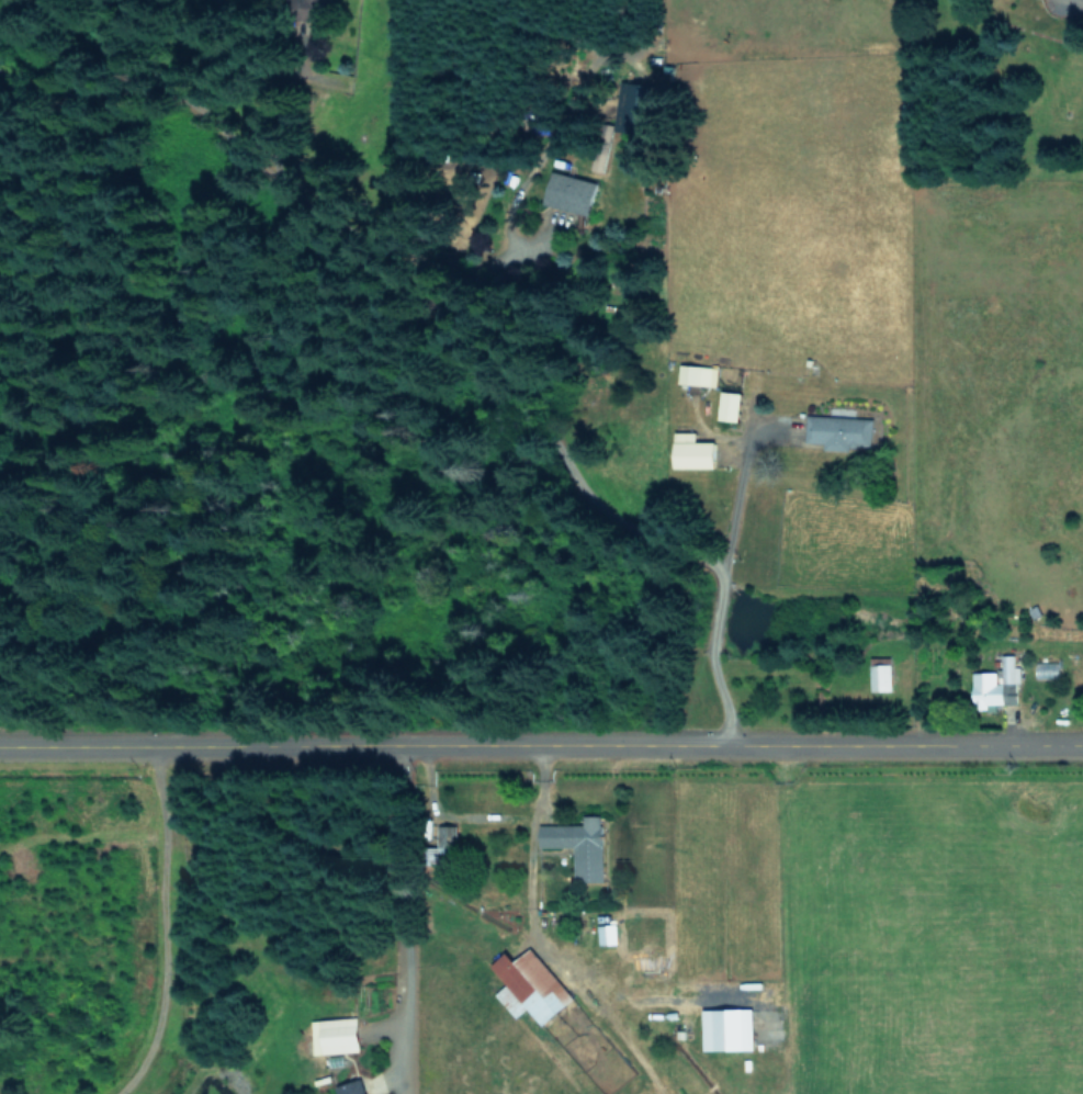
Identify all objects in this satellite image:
road: (1080, 0)
building: (627, 105)
building: (599, 160)
building: (568, 192)
building: (697, 374)
building: (729, 405)
building: (838, 430)
building: (691, 450)
road: (733, 511)
road: (700, 554)
building: (879, 676)
building: (995, 684)
road: (1063, 740)
road: (521, 744)
building: (441, 835)
building: (577, 845)
road: (531, 871)
road: (403, 918)
road: (157, 927)
building: (605, 934)
building: (529, 985)
building: (726, 1029)
building: (334, 1035)
building: (349, 1087)

